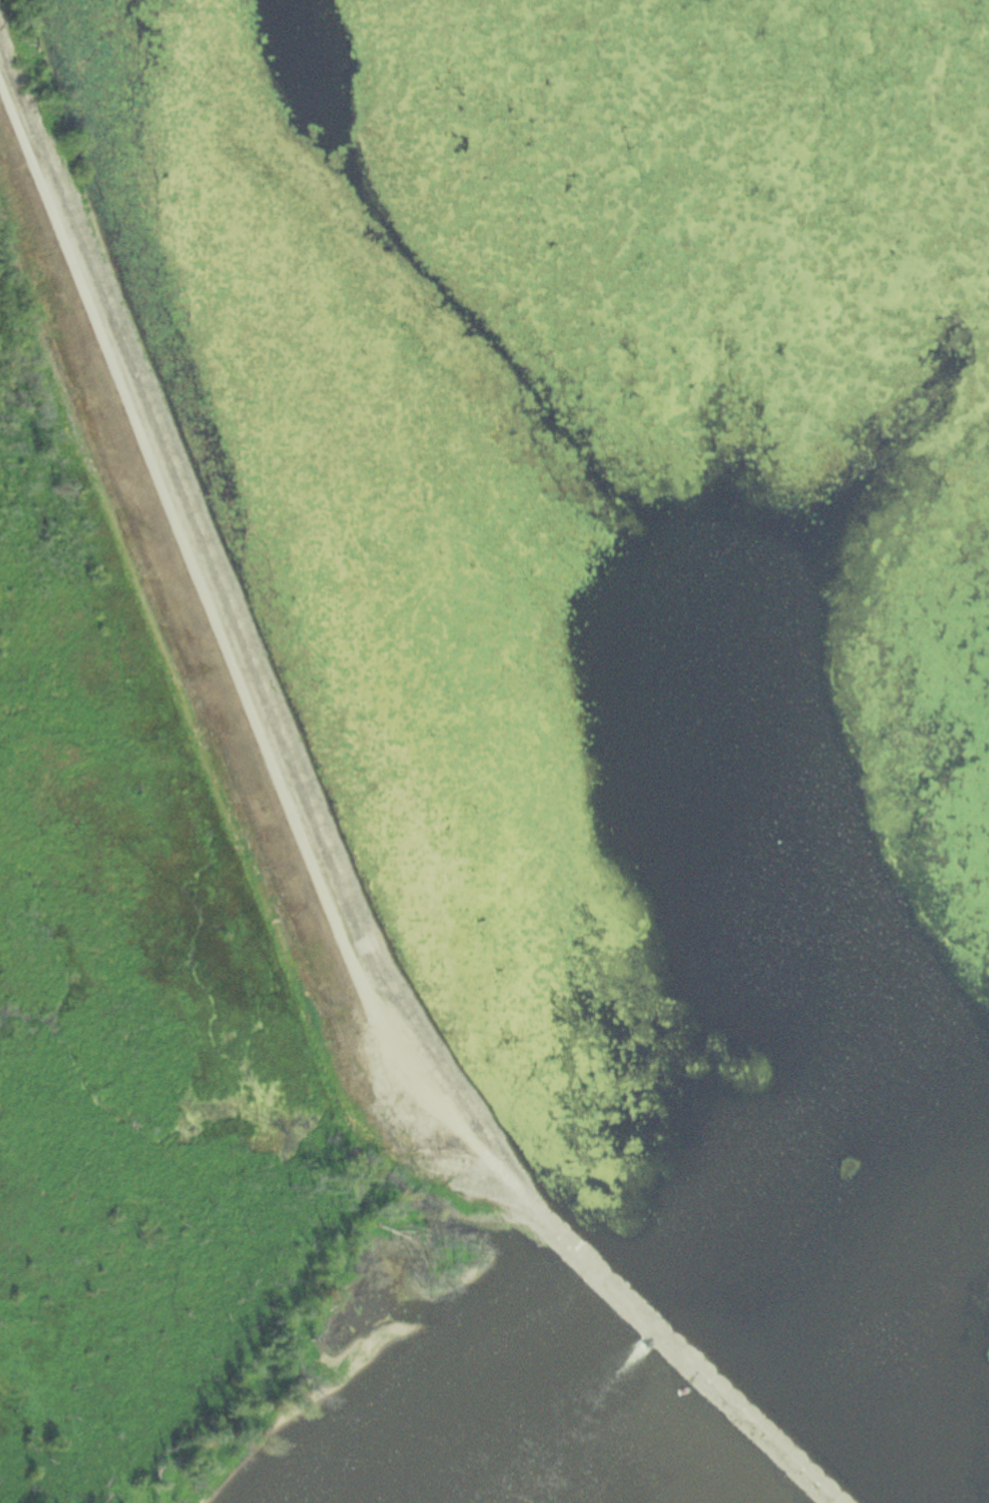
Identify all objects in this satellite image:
road: (207, 616)
river: (708, 1293)
dam: (676, 1354)

